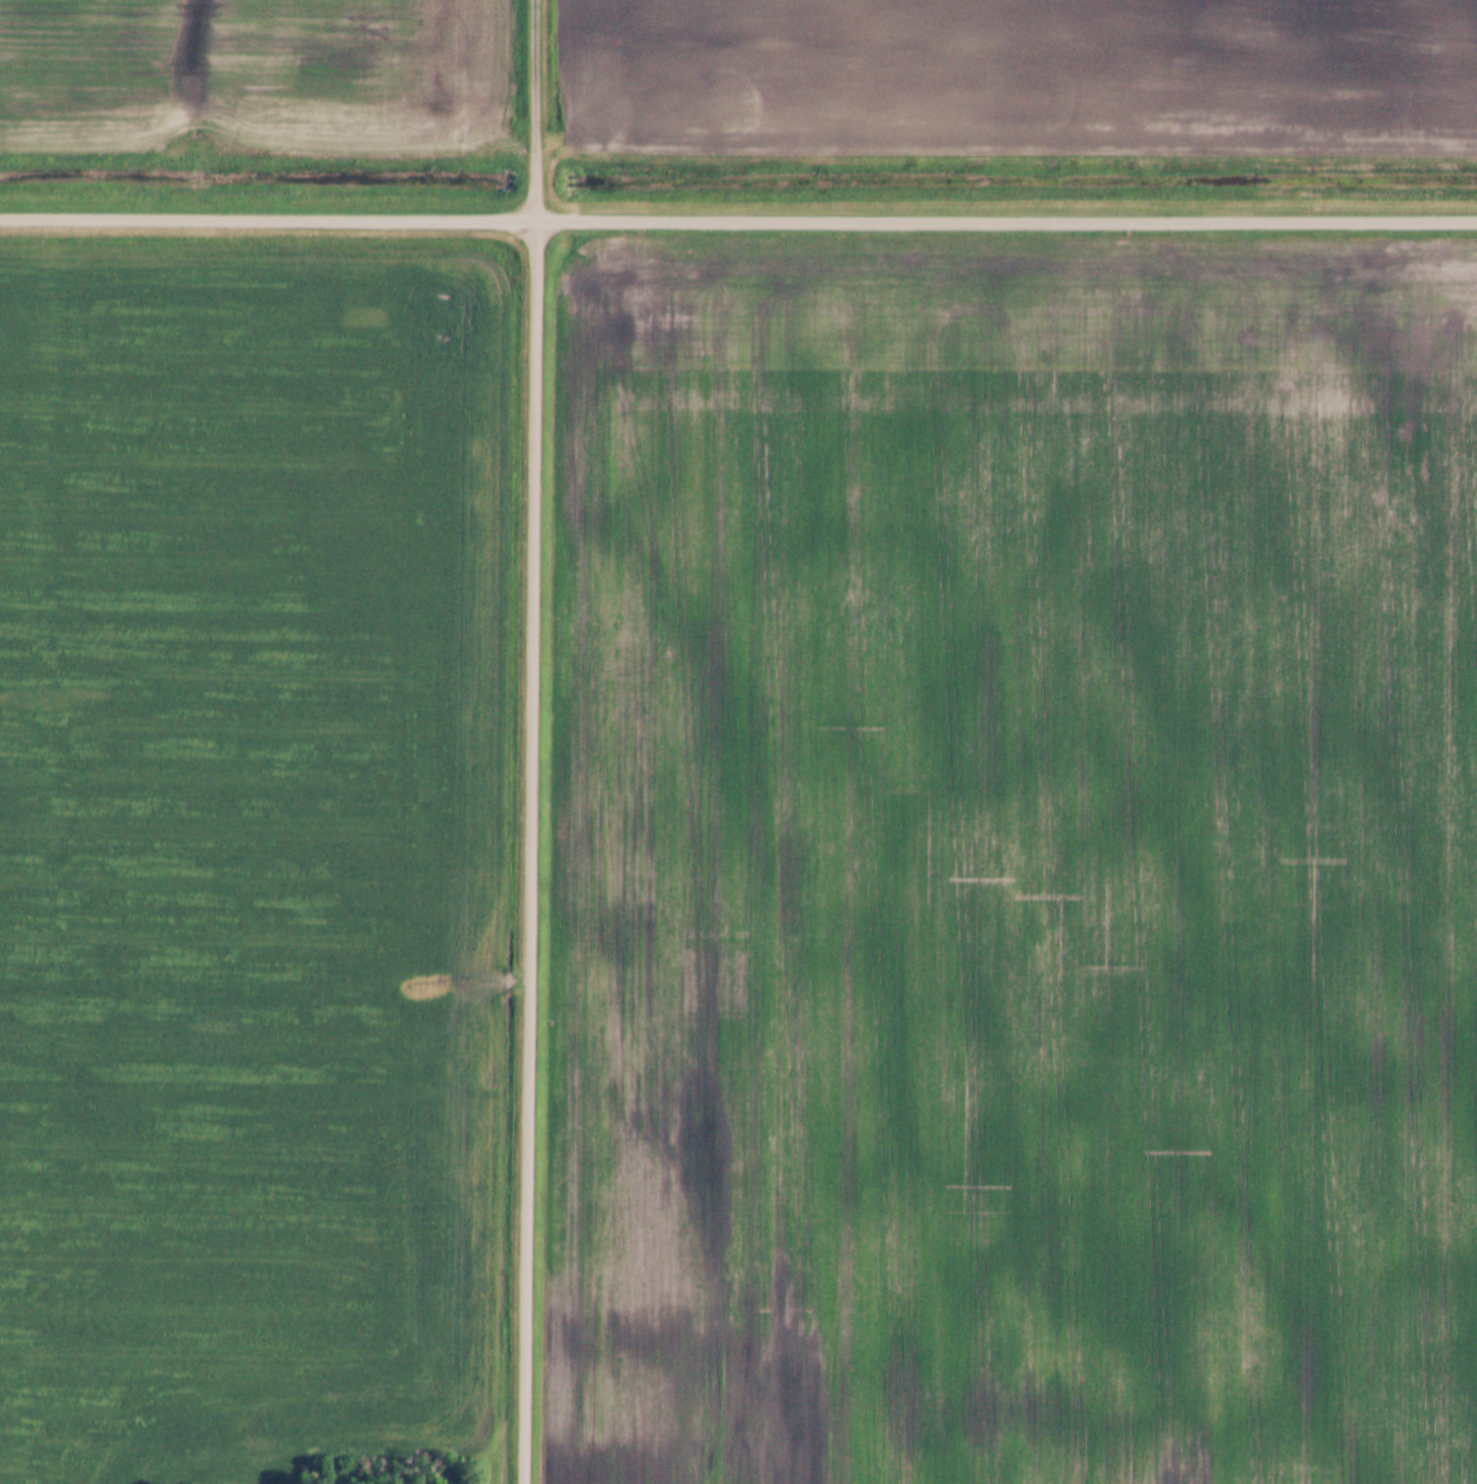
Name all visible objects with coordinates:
road: (537, 111)
road: (738, 224)
road: (534, 854)

